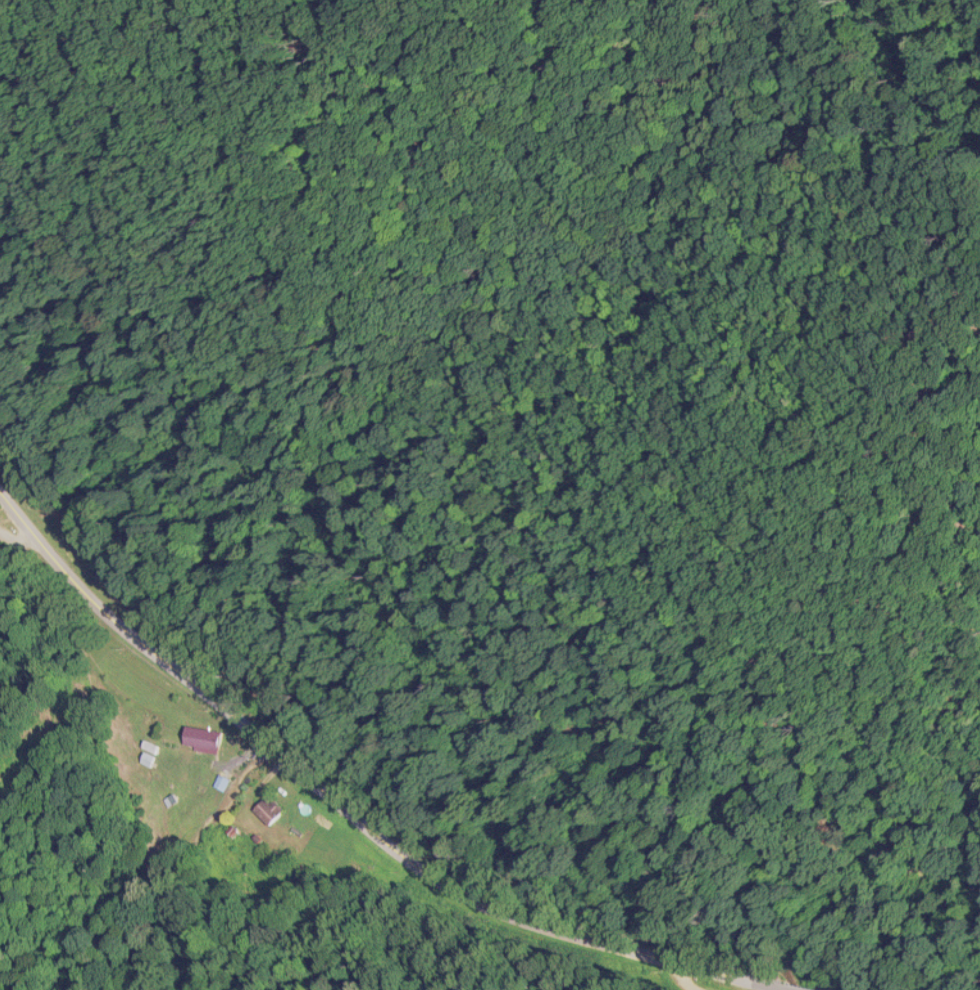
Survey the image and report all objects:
road: (17, 536)
building: (198, 737)
road: (344, 808)
road: (664, 977)
road: (789, 987)

